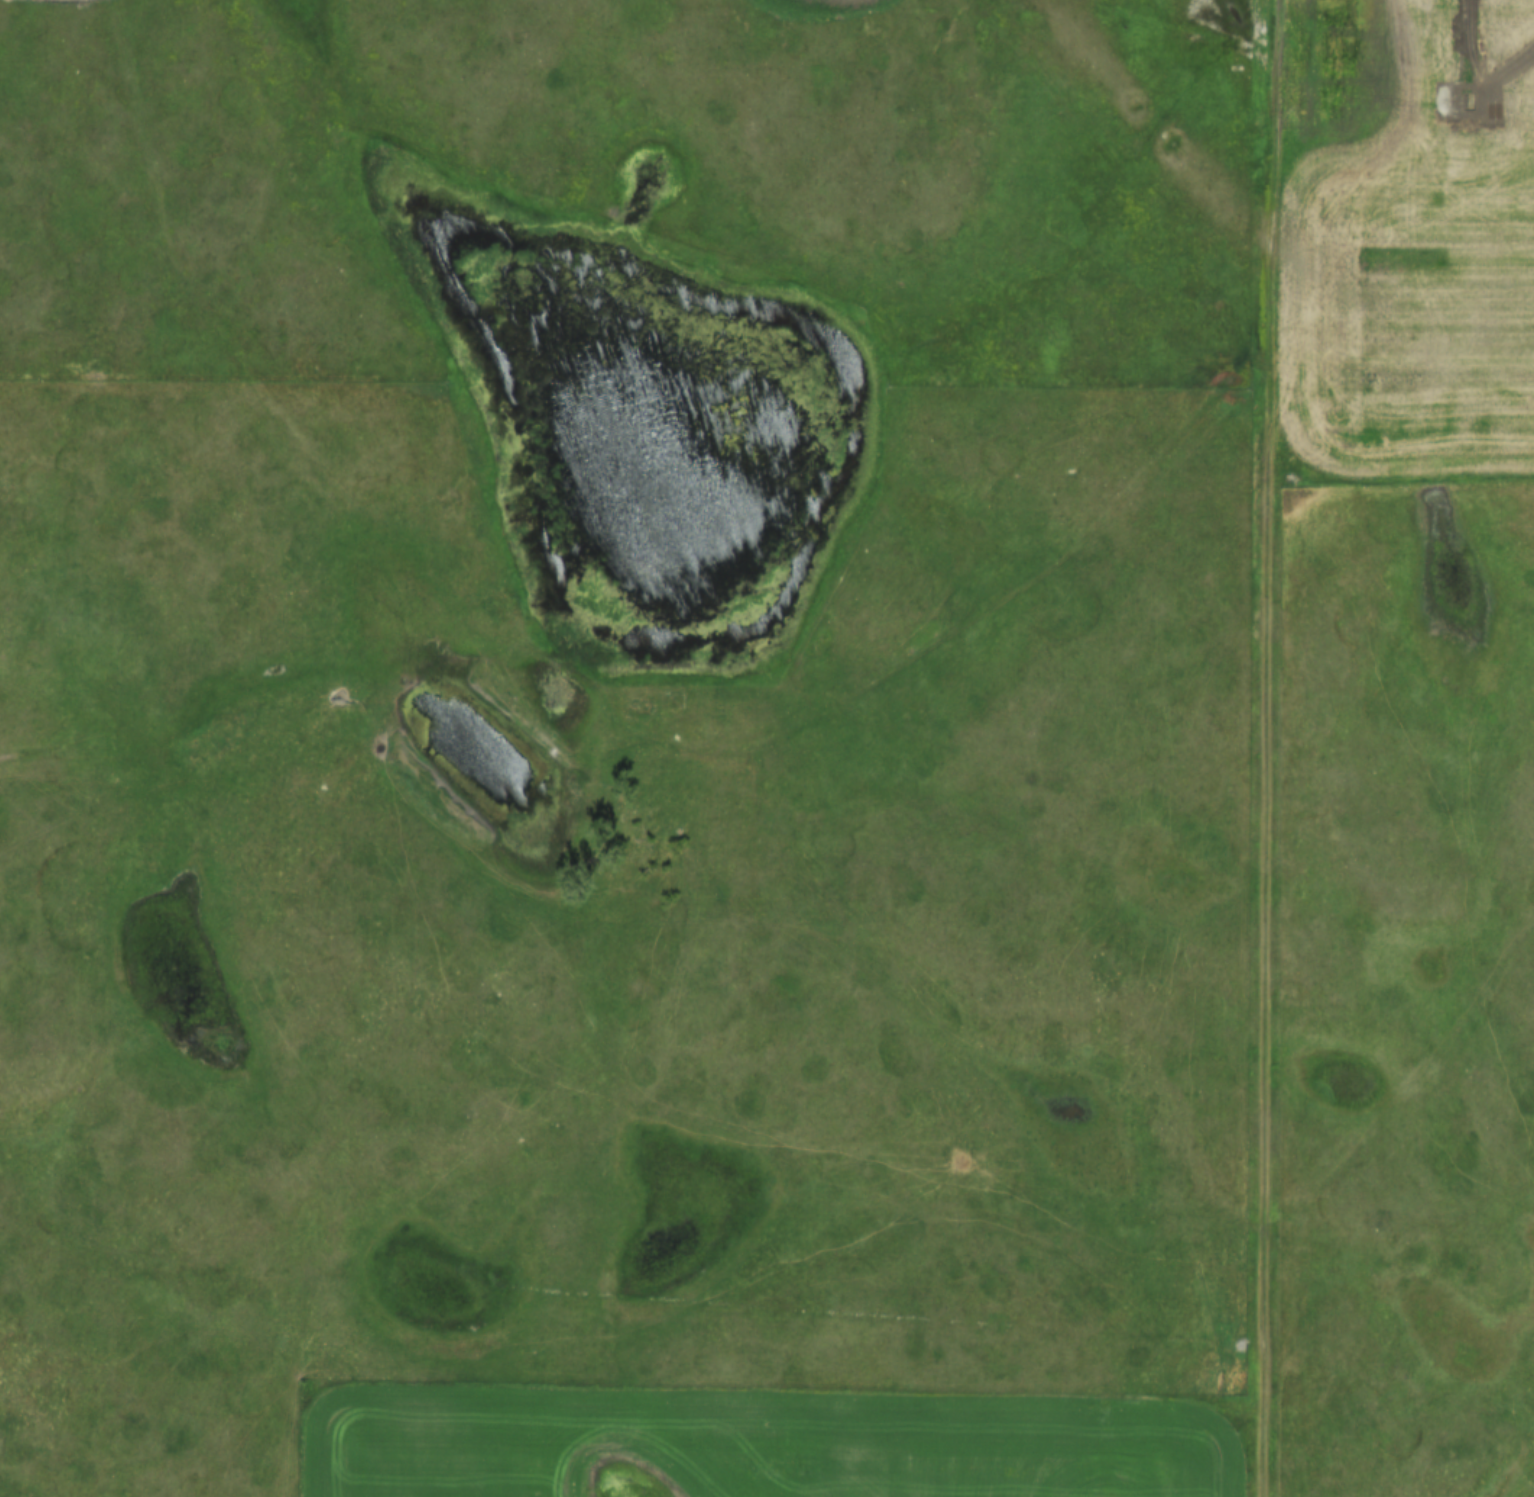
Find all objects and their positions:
road: (1266, 748)

